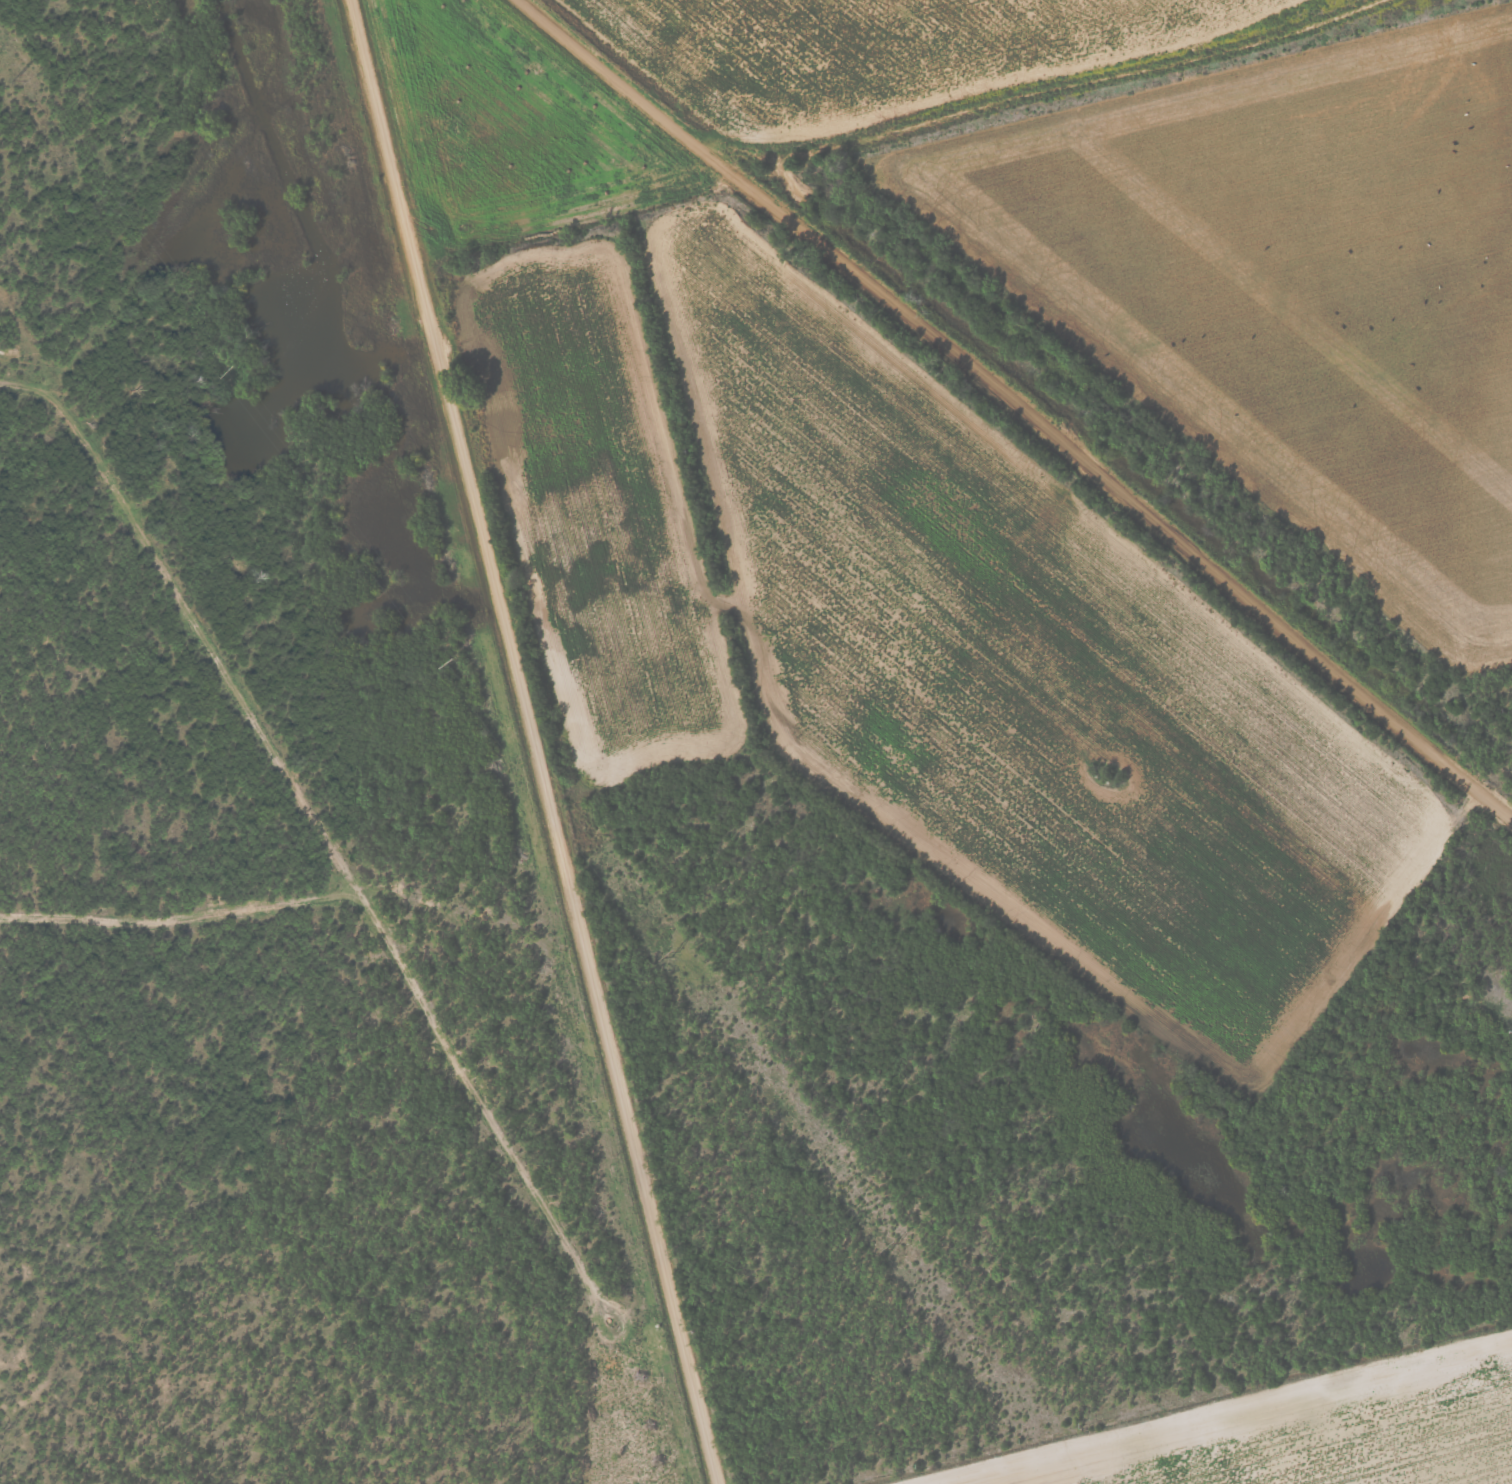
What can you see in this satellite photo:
power tower: (17, 78)
power tower: (238, 371)
railway: (1047, 384)
road: (1008, 410)
power tower: (456, 663)
road: (526, 742)
power tower: (675, 955)
power tower: (895, 1245)

